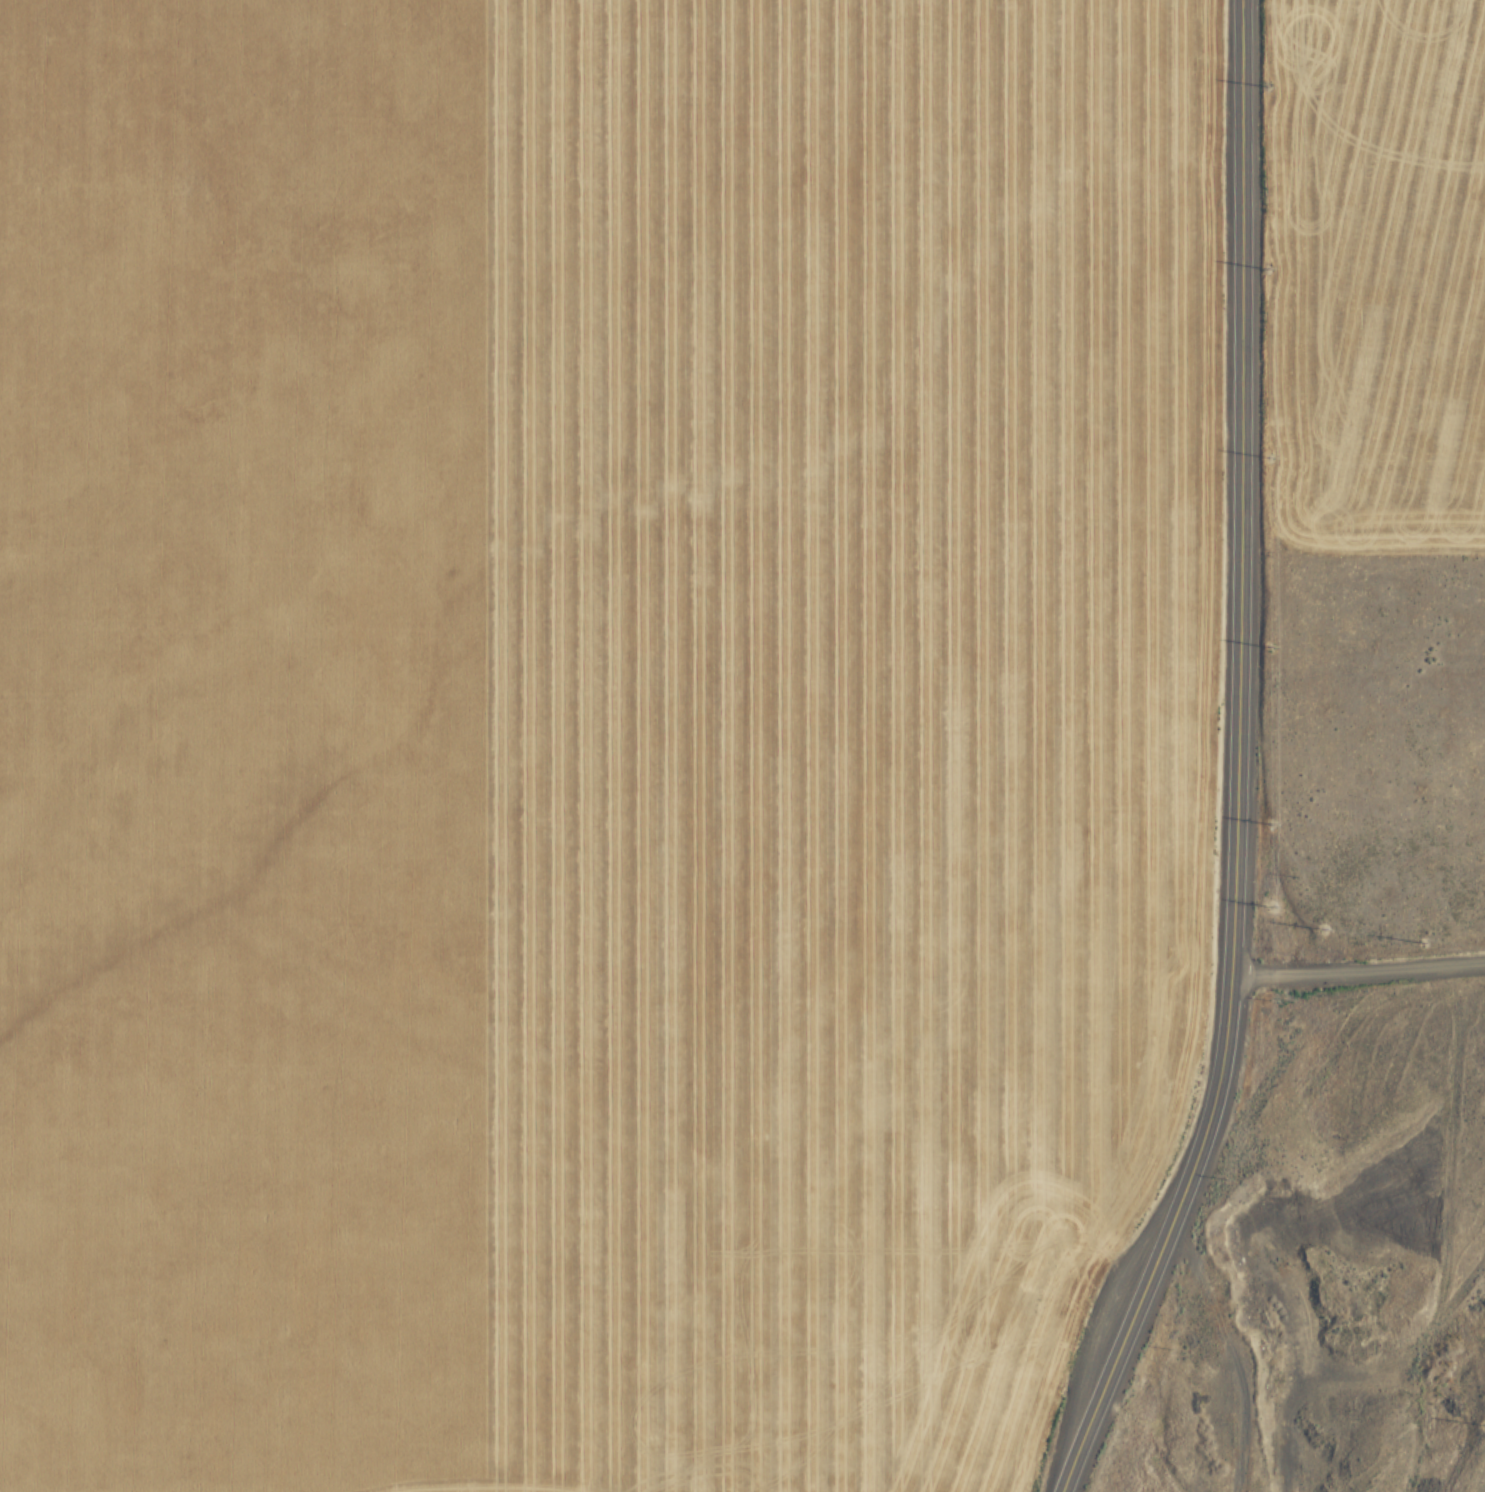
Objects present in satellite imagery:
road: (1236, 760)
road: (1357, 969)

